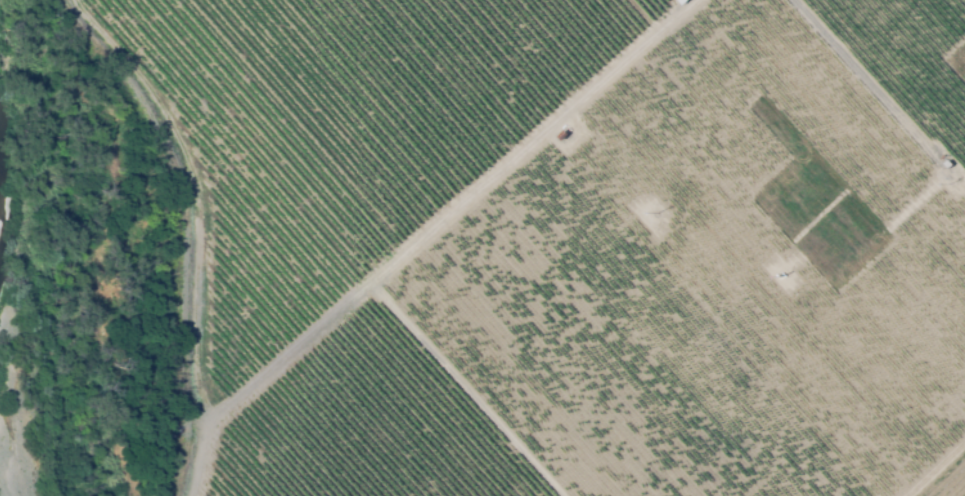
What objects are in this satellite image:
road: (607, 80)
building: (562, 134)

